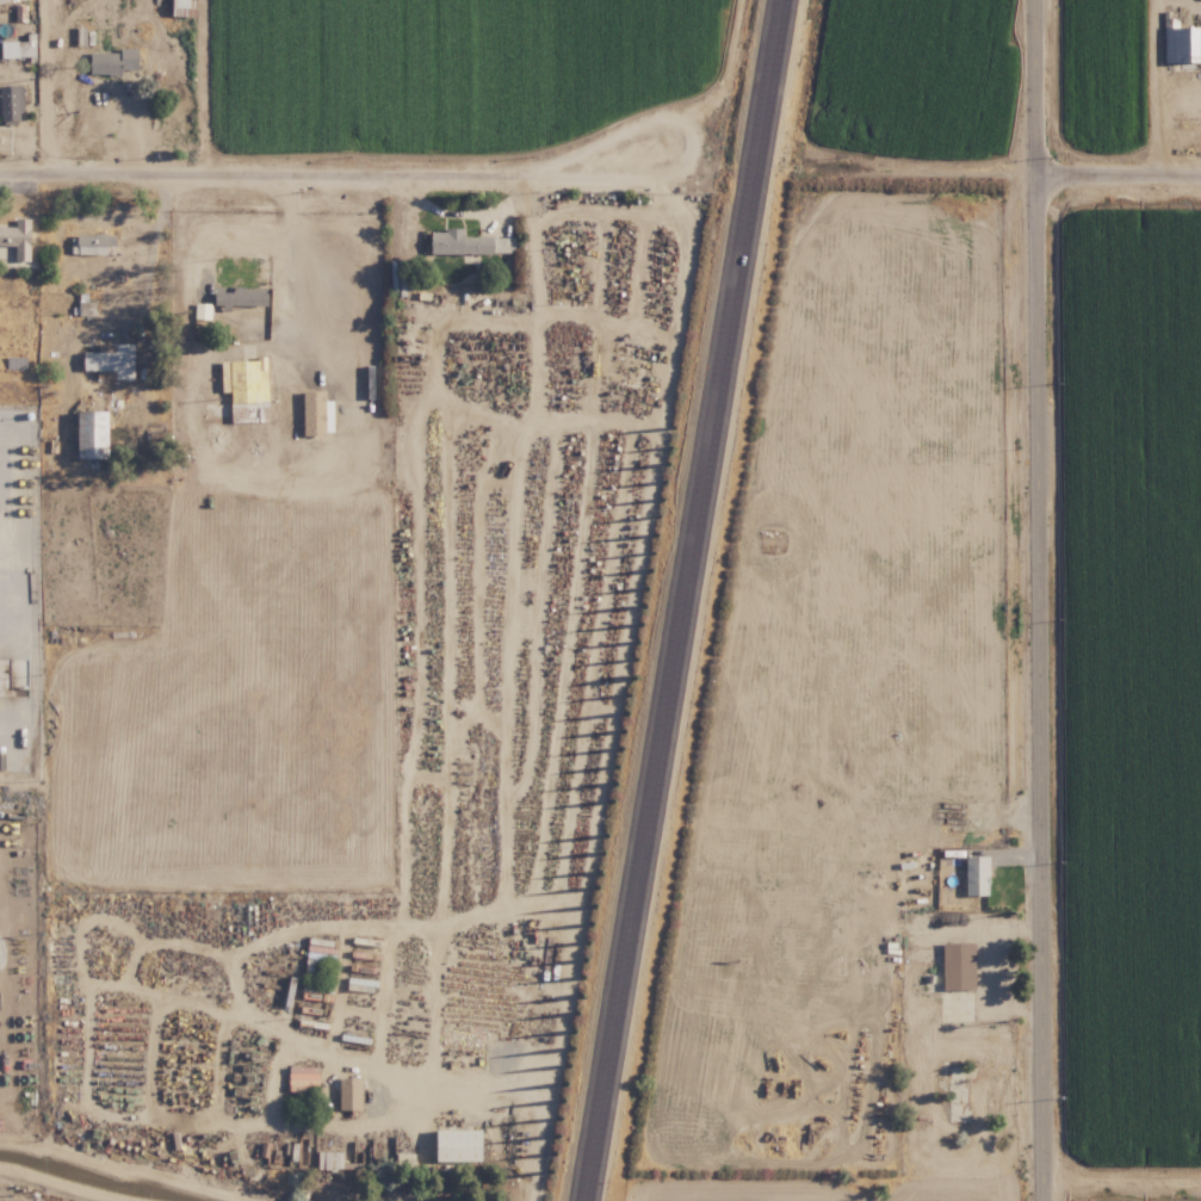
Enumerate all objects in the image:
building: (1182, 43)
building: (21, 45)
crop: (438, 63)
crop: (1131, 72)
crop: (24, 74)
road: (1153, 87)
road: (330, 169)
road: (1119, 175)
building: (17, 239)
building: (459, 242)
building: (86, 244)
road: (149, 253)
road: (298, 258)
building: (112, 360)
building: (320, 411)
building: (93, 433)
road: (680, 600)
road: (1039, 600)
crop: (1132, 680)
crop: (19, 828)
building: (978, 874)
building: (961, 966)
road: (530, 1089)
building: (351, 1092)
building: (459, 1145)
building: (329, 1160)
crop: (1134, 1187)
crop: (141, 1195)

